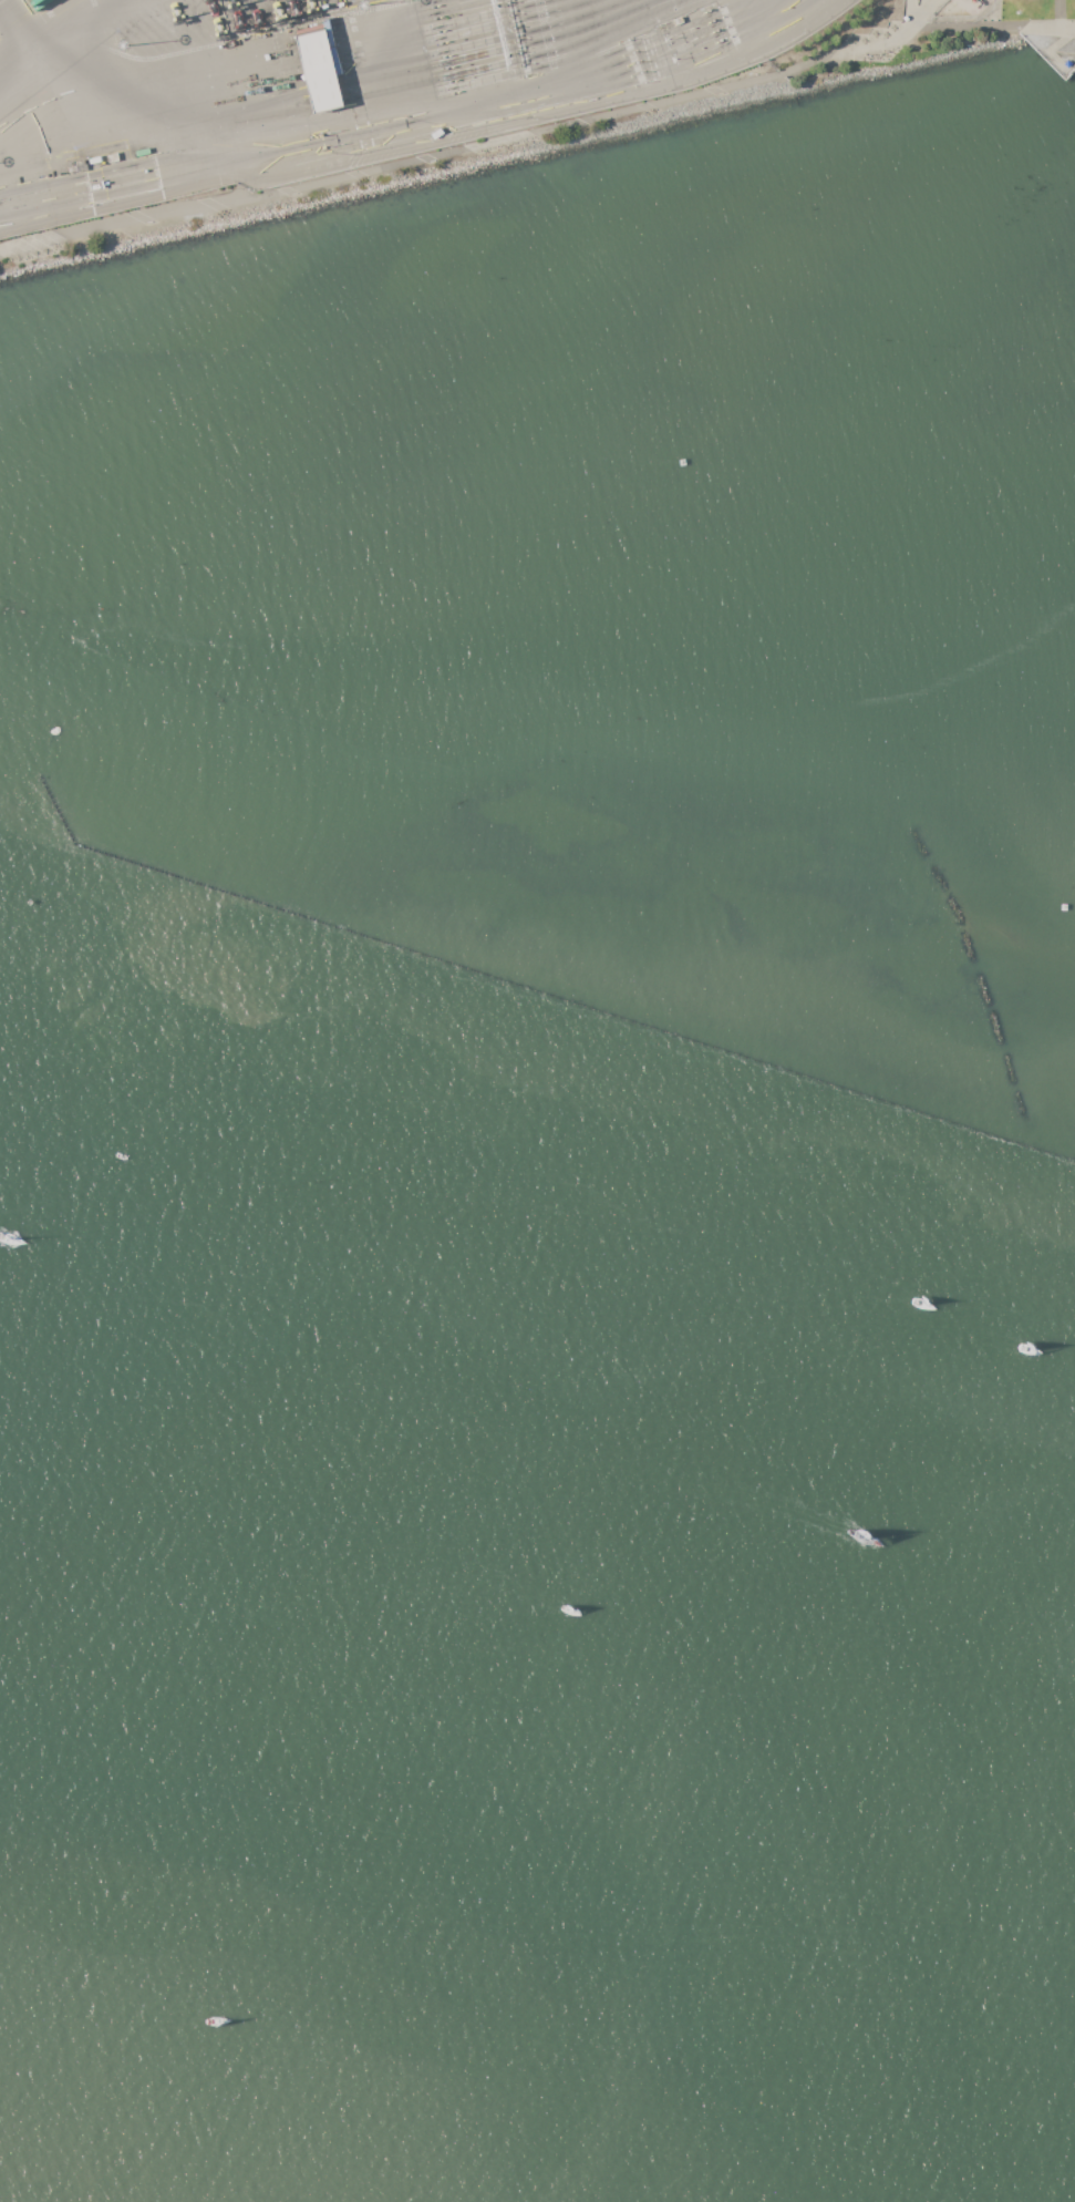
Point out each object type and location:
building: (34, 4)
road: (912, 14)
road: (917, 14)
road: (926, 14)
road: (994, 16)
road: (1060, 16)
road: (62, 19)
road: (1051, 54)
road: (261, 66)
building: (318, 70)
park: (779, 78)
road: (432, 113)
park: (572, 128)
road: (538, 137)

